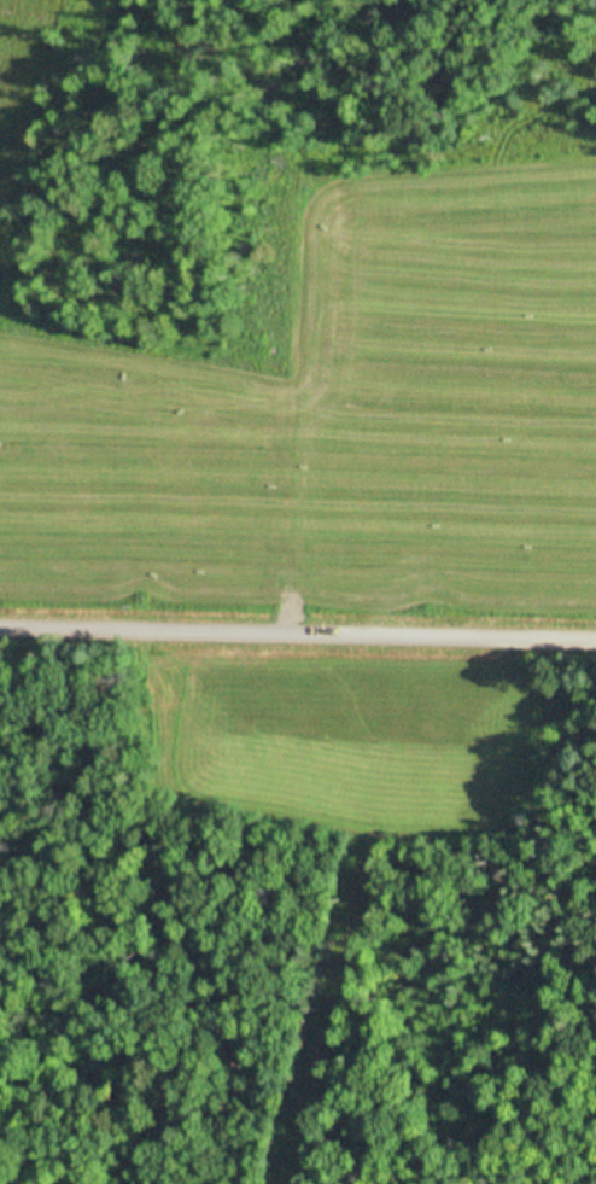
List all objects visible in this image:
road: (298, 635)

